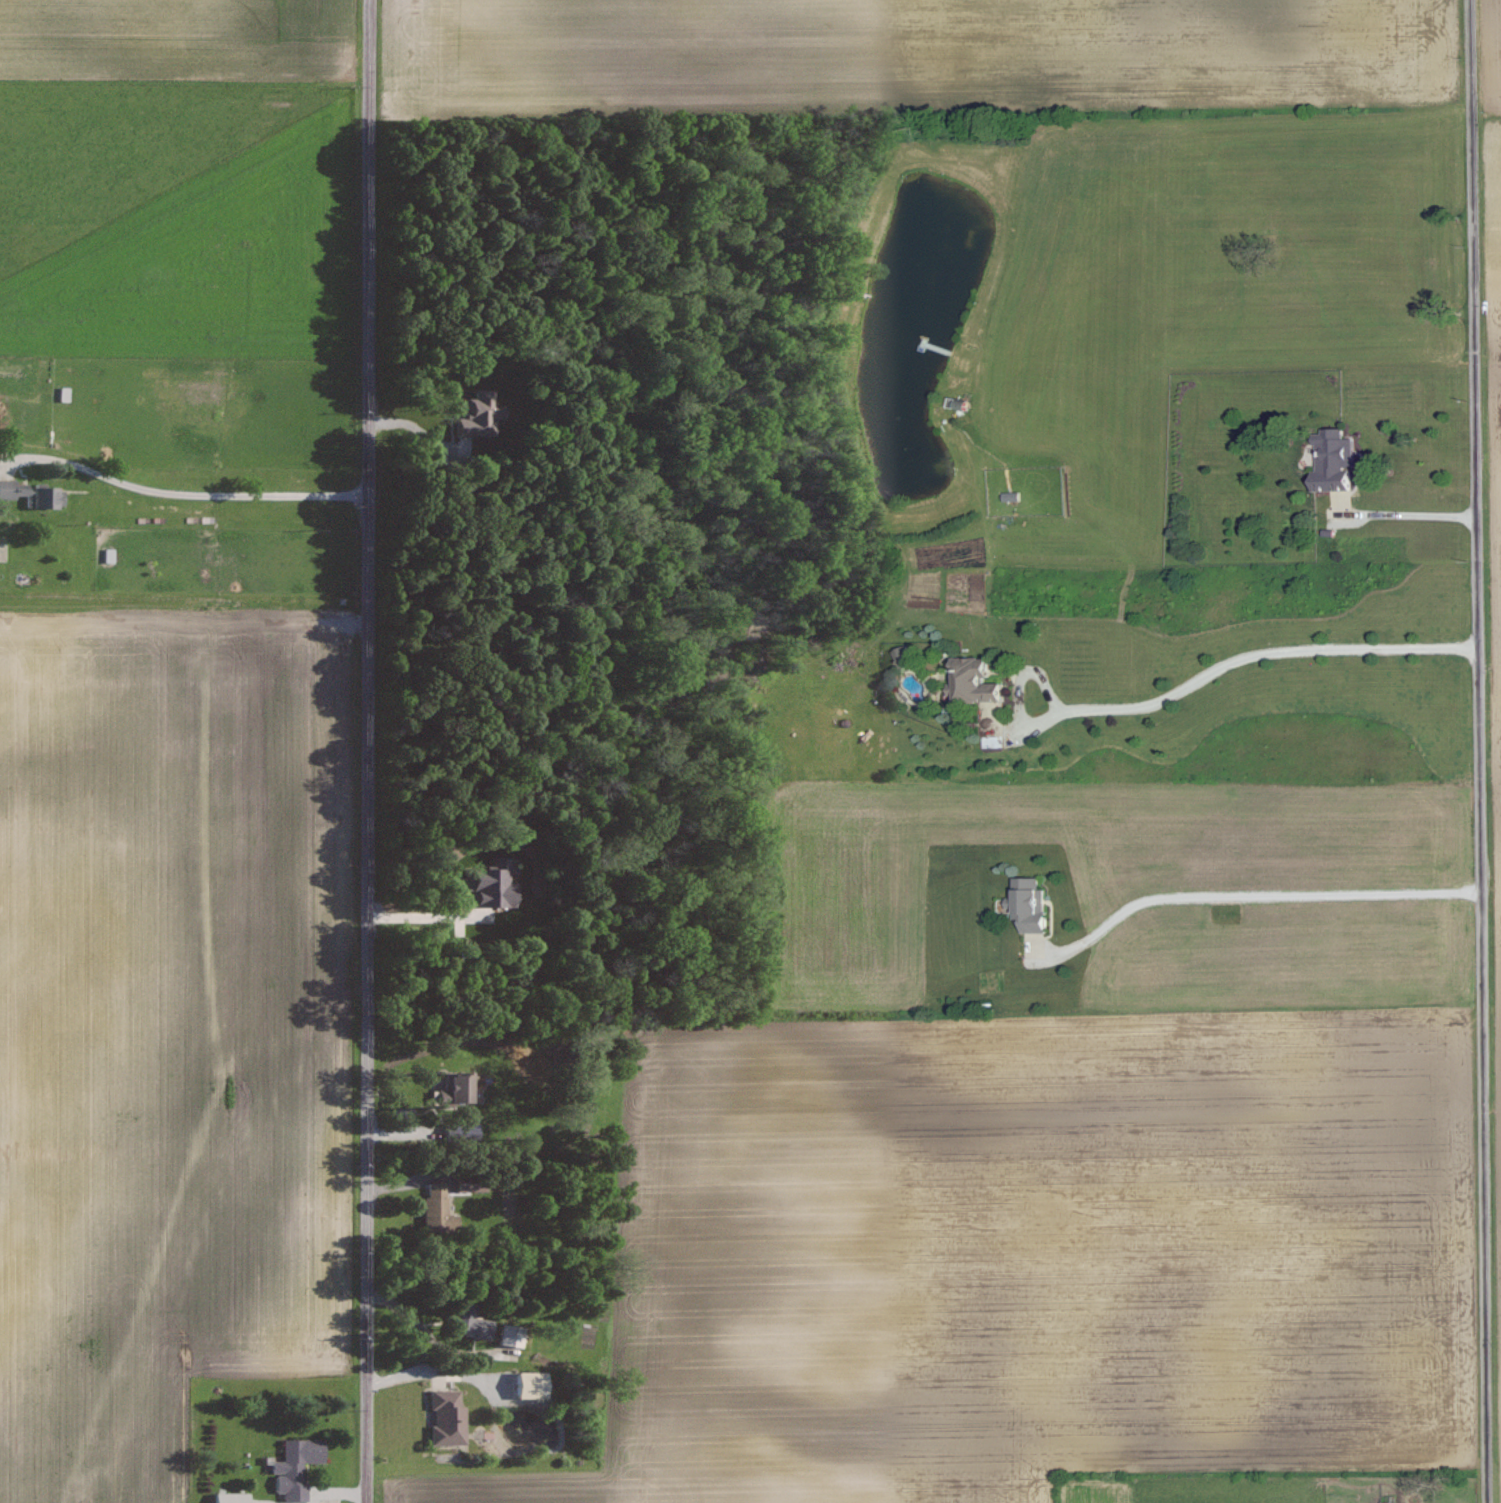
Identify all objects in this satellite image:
building: (474, 415)
building: (1330, 460)
road: (186, 476)
building: (30, 494)
road: (1418, 513)
building: (900, 655)
road: (1196, 679)
building: (971, 681)
road: (368, 751)
road: (1480, 751)
building: (483, 884)
road: (1250, 891)
building: (1027, 904)
road: (425, 917)
building: (449, 1089)
building: (455, 1134)
building: (432, 1208)
building: (463, 1322)
road: (417, 1328)
road: (432, 1375)
building: (523, 1385)
building: (442, 1418)
building: (291, 1467)
building: (225, 1498)

